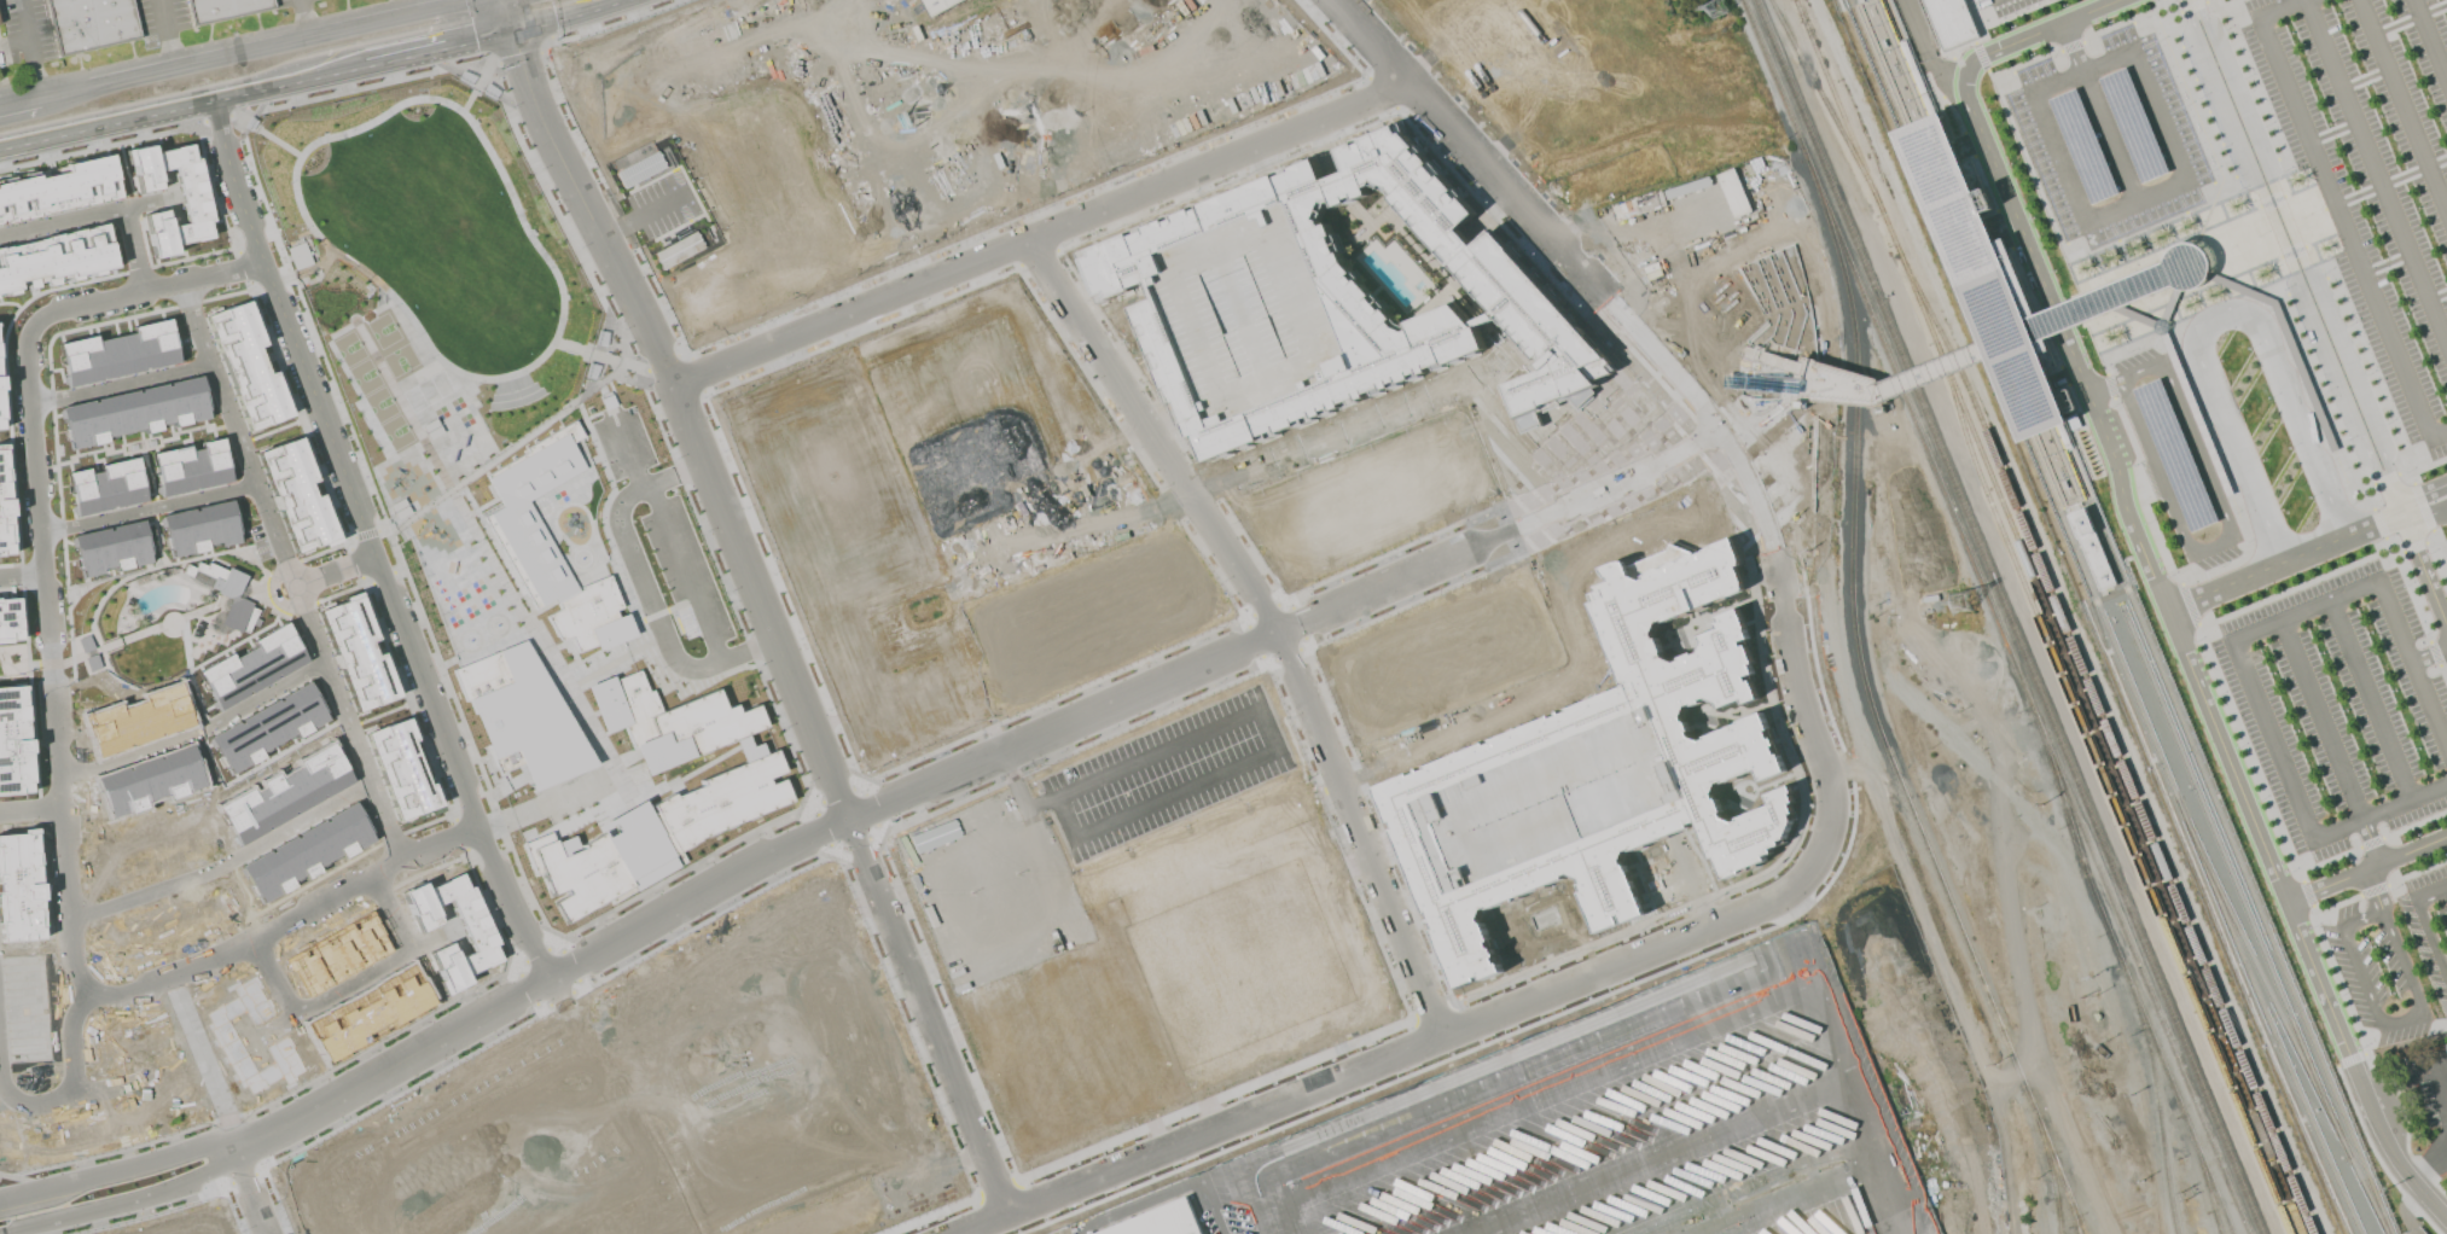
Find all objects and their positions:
road: (438, 4)
road: (457, 4)
building: (937, 5)
building: (222, 7)
power tower: (1715, 7)
road: (500, 13)
road: (552, 14)
road: (298, 19)
building: (1958, 21)
building: (89, 23)
road: (2040, 30)
road: (169, 33)
road: (482, 33)
road: (2430, 40)
road: (11, 41)
road: (24, 48)
road: (1923, 50)
road: (237, 53)
road: (331, 65)
road: (2081, 69)
road: (17, 95)
road: (18, 103)
railway: (1825, 107)
road: (2402, 107)
road: (2096, 113)
road: (101, 117)
building: (2132, 126)
parking lot: (2251, 135)
building: (2082, 145)
building: (1123, 151)
building: (638, 169)
road: (2376, 170)
building: (1687, 187)
building: (58, 190)
building: (1733, 193)
building: (193, 200)
building: (1649, 202)
parking lot: (659, 205)
road: (101, 210)
road: (2340, 211)
road: (643, 214)
road: (1529, 214)
road: (1678, 222)
road: (1041, 233)
road: (1599, 233)
building: (676, 250)
building: (56, 255)
street lamp: (1249, 255)
building: (298, 256)
road: (2298, 256)
road: (2286, 258)
road: (2211, 260)
street lamp: (1203, 273)
building: (1981, 278)
road: (1674, 284)
building: (2137, 287)
railway: (2003, 291)
railway: (1970, 298)
building: (1326, 302)
building: (2169, 305)
street lamp: (1273, 316)
road: (2065, 320)
street lamp: (1227, 334)
road: (1685, 337)
road: (2063, 337)
building: (116, 354)
street lamp: (1290, 357)
building: (245, 365)
road: (1720, 374)
street lamp: (1244, 377)
road: (1703, 380)
road: (117, 383)
road: (1900, 384)
building: (0, 385)
road: (1810, 388)
road: (2103, 389)
road: (2211, 390)
road: (1794, 391)
road: (1765, 411)
building: (133, 412)
building: (2196, 414)
road: (687, 417)
building: (0, 419)
road: (2300, 420)
building: (2175, 455)
railway: (1686, 465)
building: (188, 466)
building: (105, 487)
road: (2419, 494)
building: (295, 495)
road: (2333, 499)
building: (4, 505)
road: (146, 507)
railway: (2063, 507)
building: (533, 513)
road: (2423, 514)
road: (2373, 524)
parking lot: (663, 525)
building: (199, 528)
road: (2233, 536)
road: (366, 539)
building: (111, 548)
road: (2315, 548)
building: (2091, 549)
road: (286, 567)
road: (2423, 571)
road: (22, 575)
building: (219, 578)
road: (2224, 587)
power tower: (1959, 603)
railway: (1993, 616)
building: (591, 617)
railway: (2007, 617)
railway: (2046, 617)
building: (7, 619)
road: (1269, 619)
road: (2238, 647)
building: (354, 653)
railway: (1838, 653)
road: (2429, 656)
building: (251, 667)
road: (1843, 688)
road: (2370, 698)
railway: (2134, 699)
railway: (1870, 710)
parking lot: (2319, 710)
building: (521, 715)
building: (665, 720)
building: (267, 727)
road: (197, 730)
road: (2330, 741)
building: (12, 743)
railway: (2112, 744)
road: (59, 757)
road: (1261, 759)
building: (1609, 767)
building: (399, 769)
building: (149, 781)
railway: (1679, 781)
building: (283, 794)
road: (1021, 798)
railway: (2111, 803)
road: (30, 809)
road: (856, 814)
building: (652, 833)
railway: (1716, 837)
road: (1821, 844)
building: (306, 851)
road: (2266, 857)
railway: (1679, 863)
road: (223, 865)
railway: (1750, 866)
road: (2366, 869)
railway: (1699, 878)
railway: (2233, 883)
railway: (1644, 907)
railway: (2256, 908)
road: (2422, 927)
building: (477, 937)
road: (2391, 942)
road: (2013, 955)
railway: (2126, 974)
road: (2359, 982)
building: (368, 1017)
railway: (2280, 1017)
railway: (2266, 1018)
building: (2446, 1047)
road: (1615, 1063)
road: (2015, 1073)
road: (71, 1083)
road: (2437, 1093)
railway: (2157, 1111)
railway: (1786, 1152)
road: (1660, 1157)
railway: (2047, 1160)
road: (2400, 1168)
road: (2429, 1169)
road: (1982, 1177)
railway: (2207, 1187)
road: (1762, 1191)
railway: (2067, 1193)
power tower: (2182, 1193)
road: (1881, 1197)
building: (1162, 1222)
street lamp: (1736, 1223)
railway: (2080, 1224)
building: (1059, 1230)
railway: (2074, 1230)
railway: (2058, 1232)

